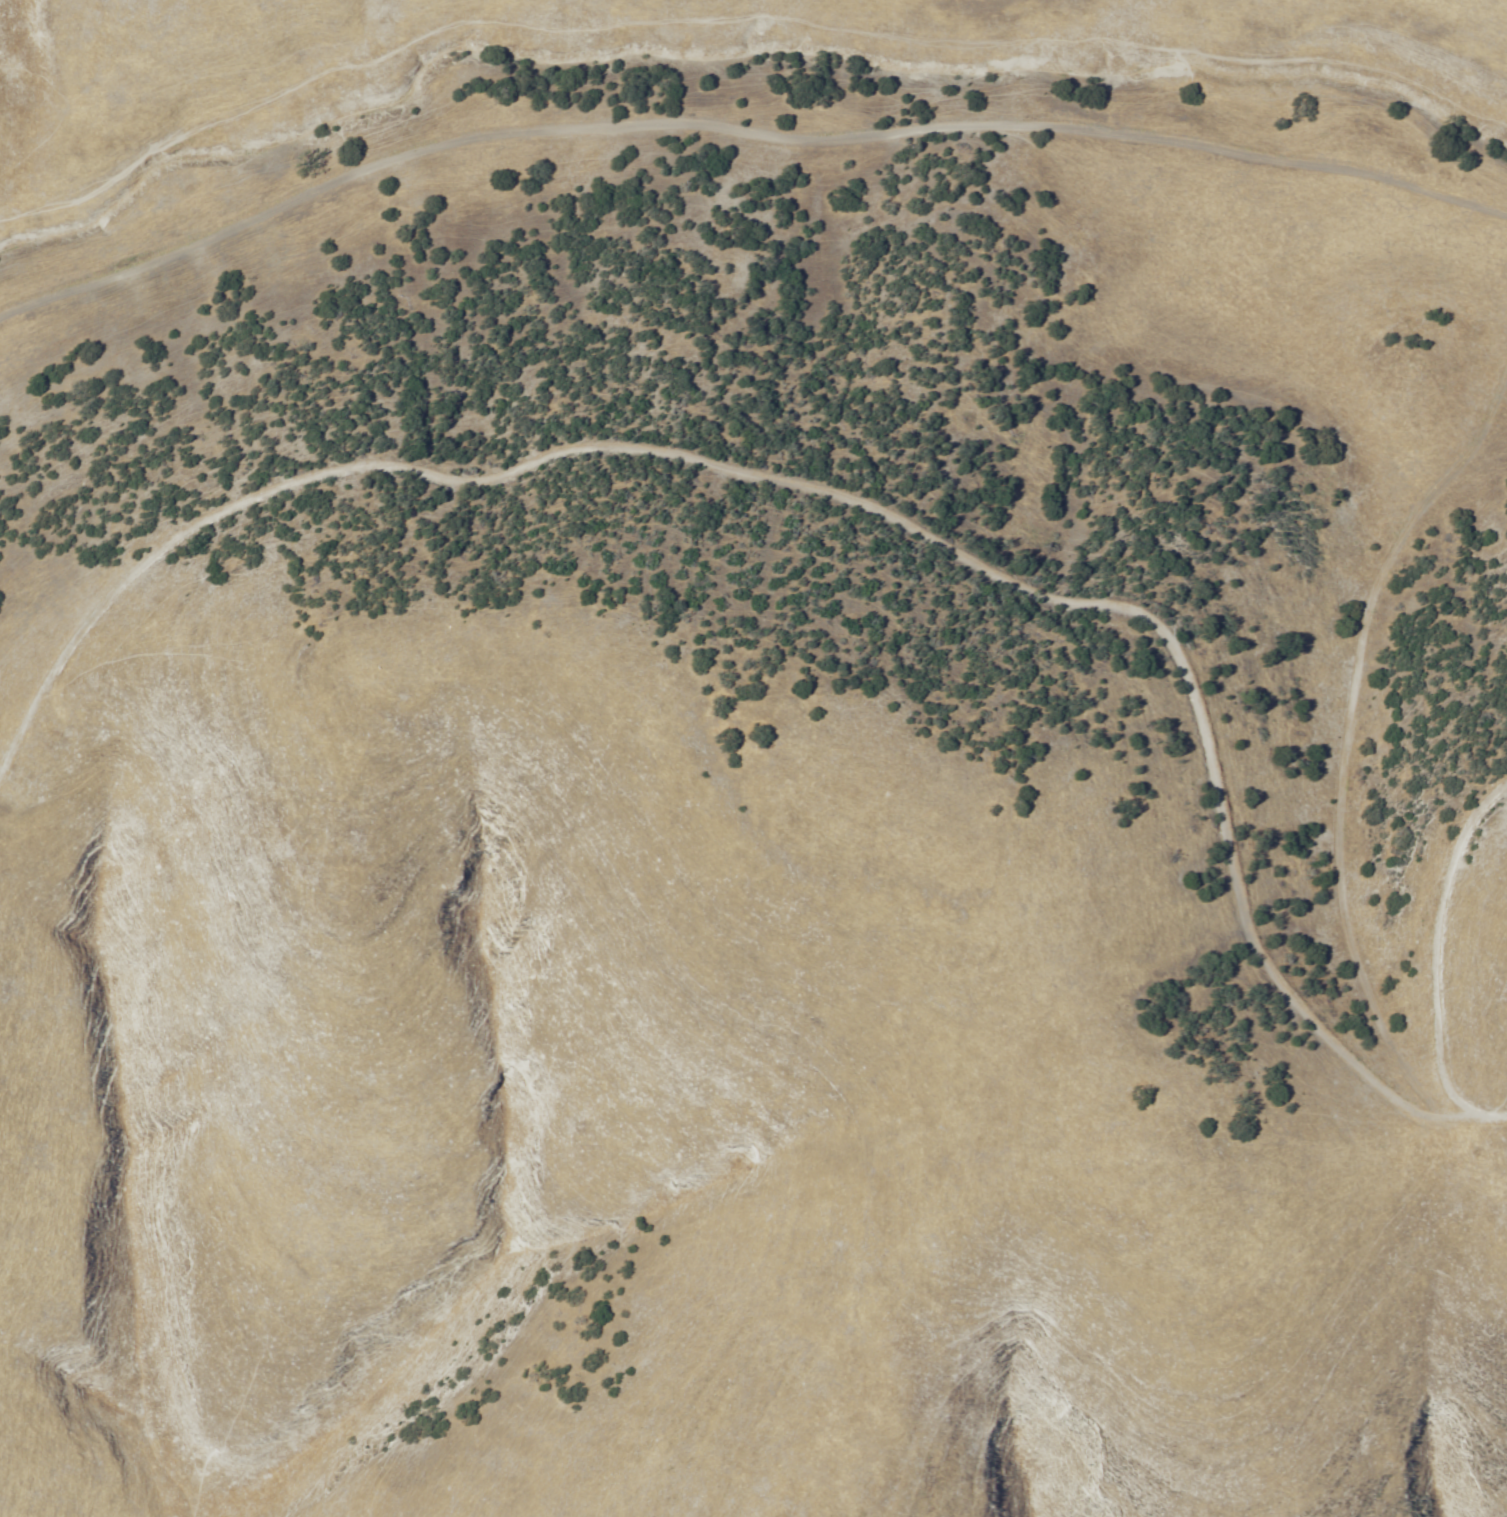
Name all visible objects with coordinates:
road: (17, 113)
road: (743, 156)
road: (855, 530)
road: (1476, 935)

